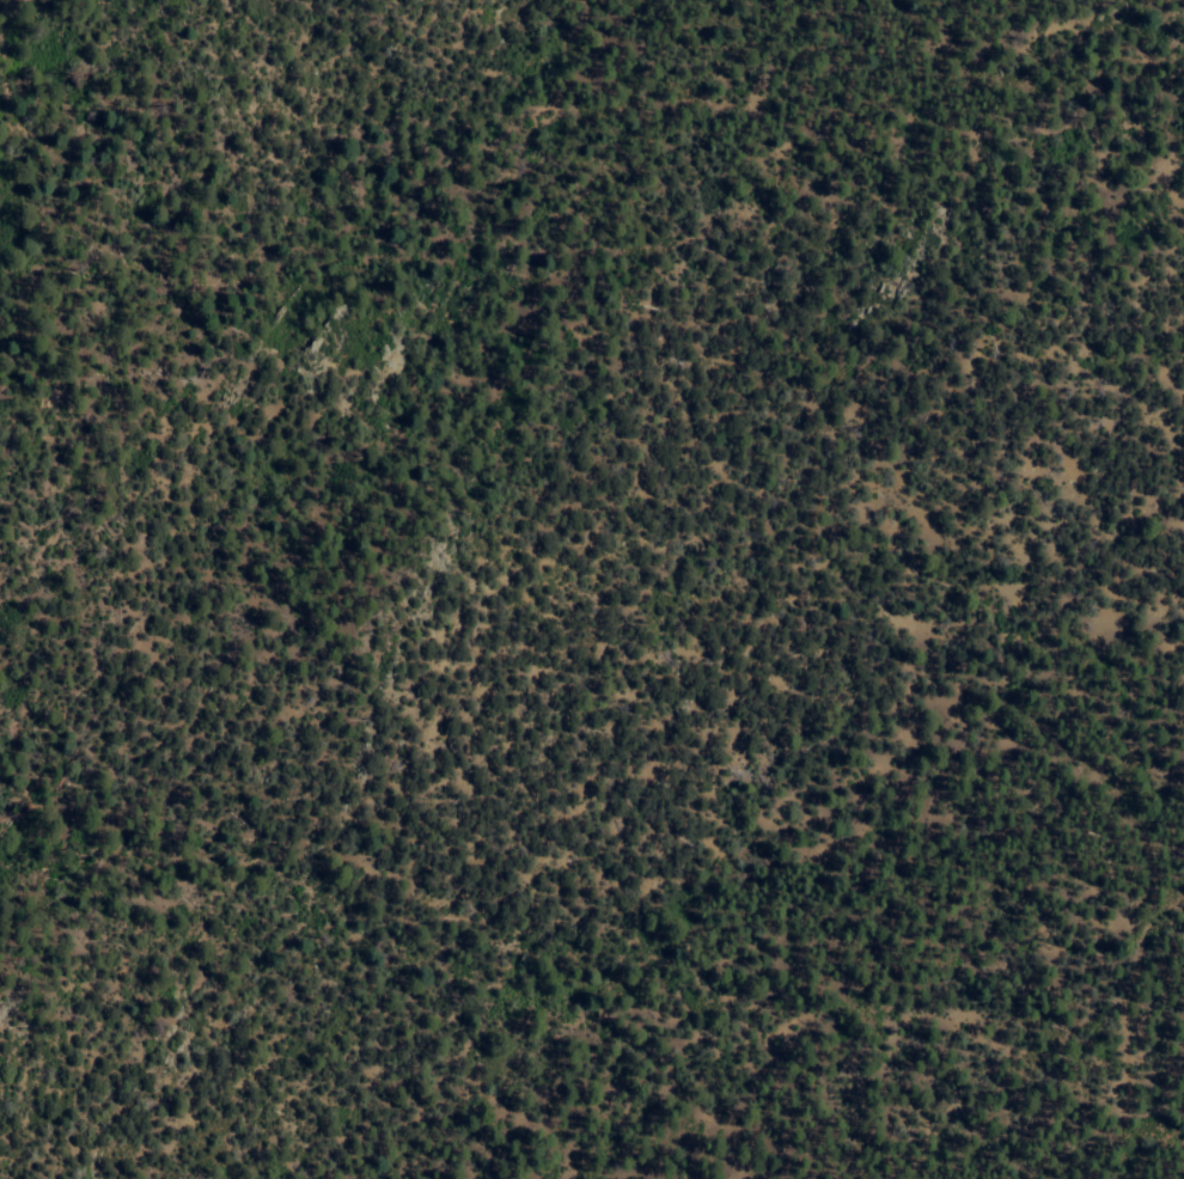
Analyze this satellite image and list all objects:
road: (1135, 1167)

